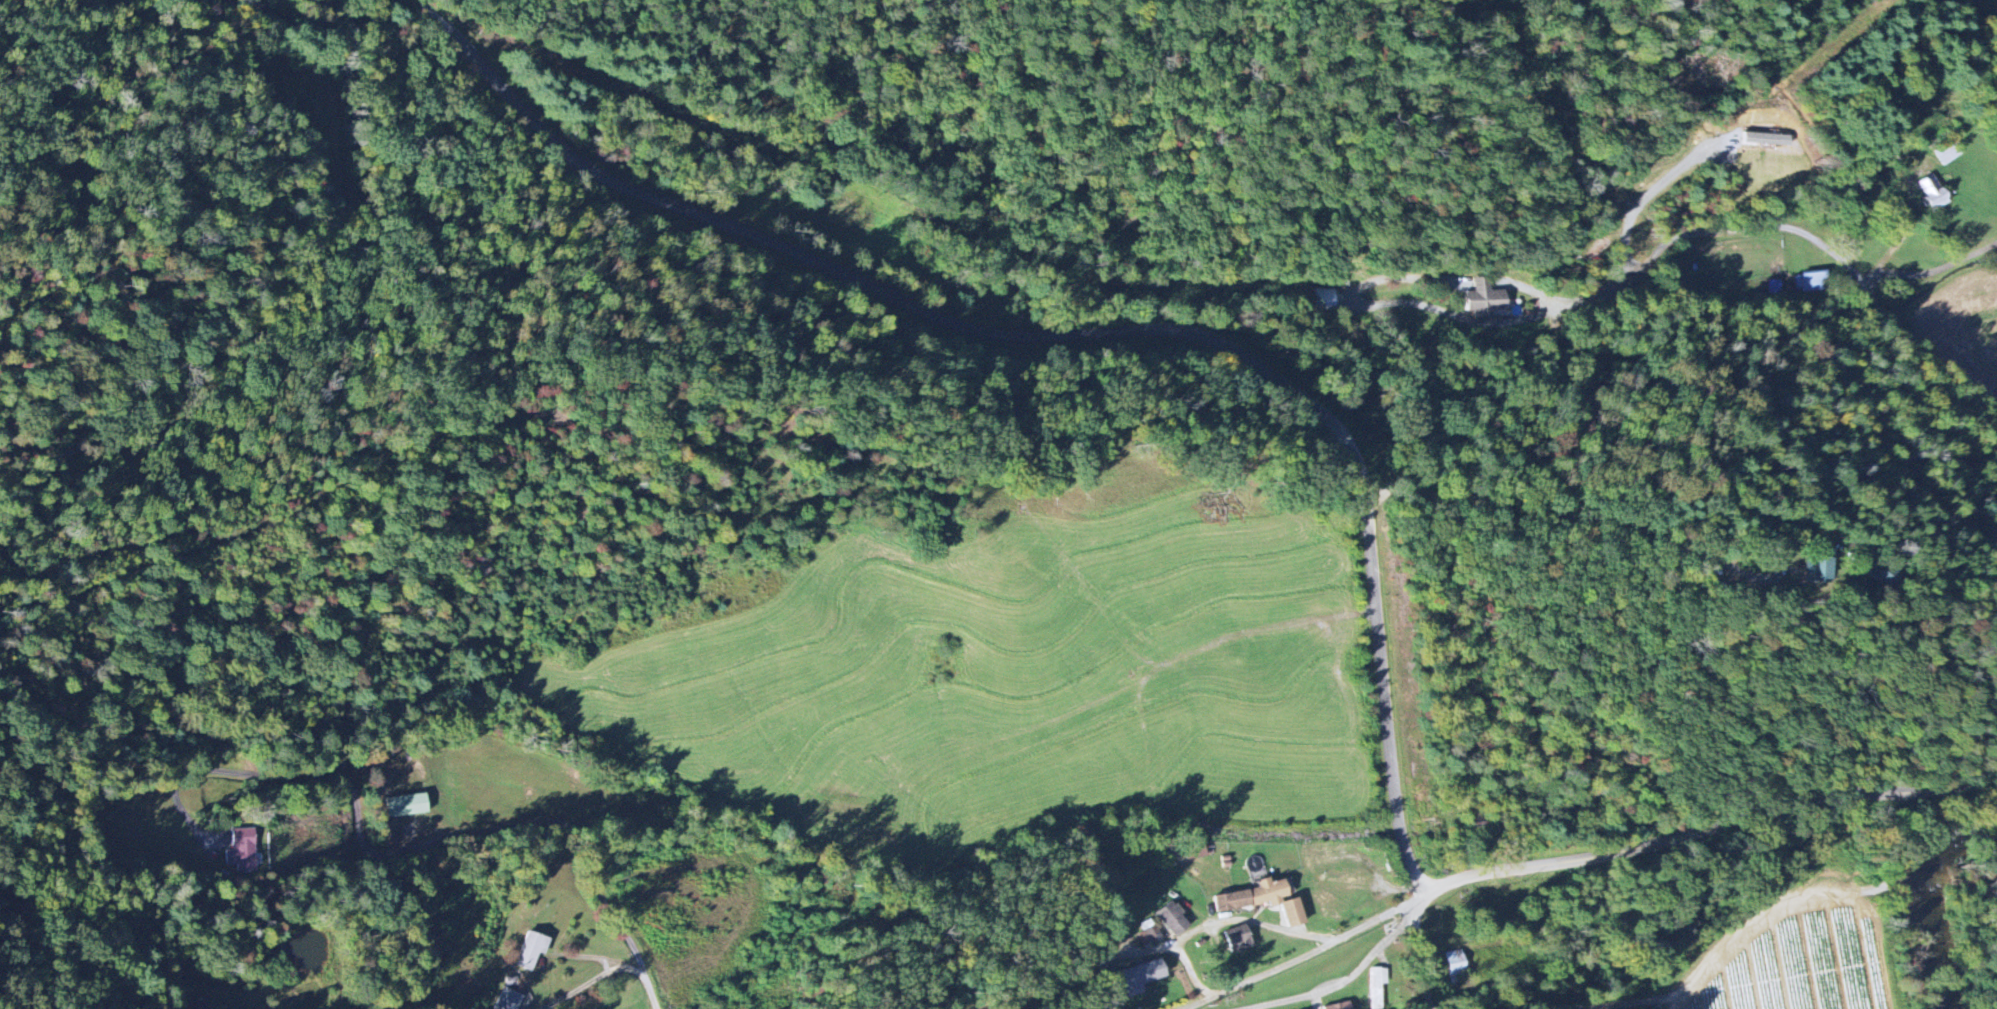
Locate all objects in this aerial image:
road: (242, 38)
building: (1946, 152)
building: (1932, 192)
road: (1646, 194)
road: (1678, 233)
road: (1938, 265)
road: (1478, 280)
building: (1810, 281)
building: (1321, 299)
building: (1484, 299)
road: (1404, 301)
road: (1898, 316)
road: (1084, 334)
road: (1564, 513)
building: (1822, 571)
road: (469, 762)
building: (406, 805)
river: (1961, 834)
building: (242, 850)
building: (1318, 851)
road: (1585, 867)
building: (1347, 881)
building: (1264, 900)
building: (1327, 904)
road: (1227, 918)
building: (1171, 920)
building: (1238, 938)
river: (1926, 941)
building: (531, 949)
road: (1416, 950)
road: (1190, 971)
building: (1142, 974)
road: (1352, 974)
road: (592, 980)
building: (1377, 986)
building: (508, 1000)
building: (1339, 1006)

